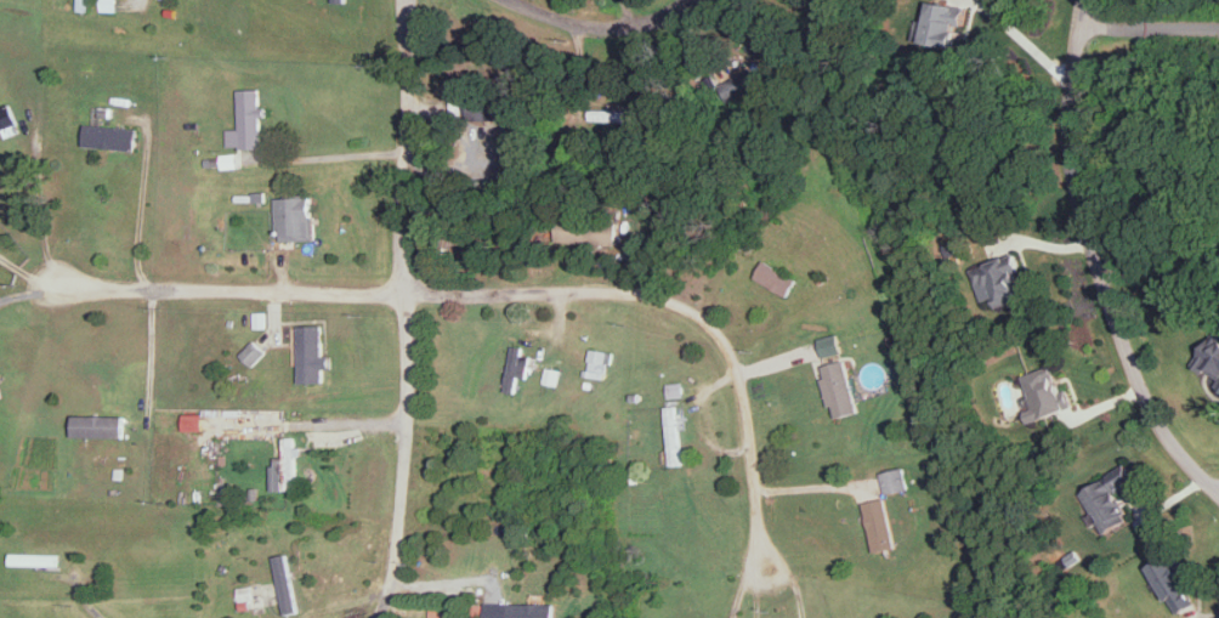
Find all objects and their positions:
road: (132, 1)
building: (108, 5)
road: (628, 12)
building: (945, 23)
road: (599, 27)
road: (1149, 28)
road: (1026, 41)
building: (739, 83)
building: (486, 108)
building: (7, 117)
building: (246, 118)
building: (110, 135)
road: (403, 144)
road: (471, 147)
road: (325, 157)
road: (141, 195)
building: (295, 216)
building: (588, 228)
road: (1095, 261)
road: (25, 272)
building: (776, 276)
building: (1000, 279)
road: (228, 287)
road: (680, 310)
building: (830, 344)
road: (149, 348)
building: (253, 351)
building: (312, 352)
building: (1211, 353)
building: (597, 361)
building: (517, 365)
building: (1218, 382)
building: (839, 387)
building: (674, 389)
building: (1045, 392)
building: (193, 420)
road: (351, 423)
building: (98, 424)
road: (402, 455)
building: (285, 465)
building: (896, 478)
road: (812, 486)
building: (1110, 498)
building: (34, 557)
building: (285, 582)
road: (793, 582)
building: (1174, 583)
road: (438, 584)
road: (741, 585)
road: (756, 589)
road: (81, 591)
building: (246, 591)
building: (438, 610)
building: (520, 610)

